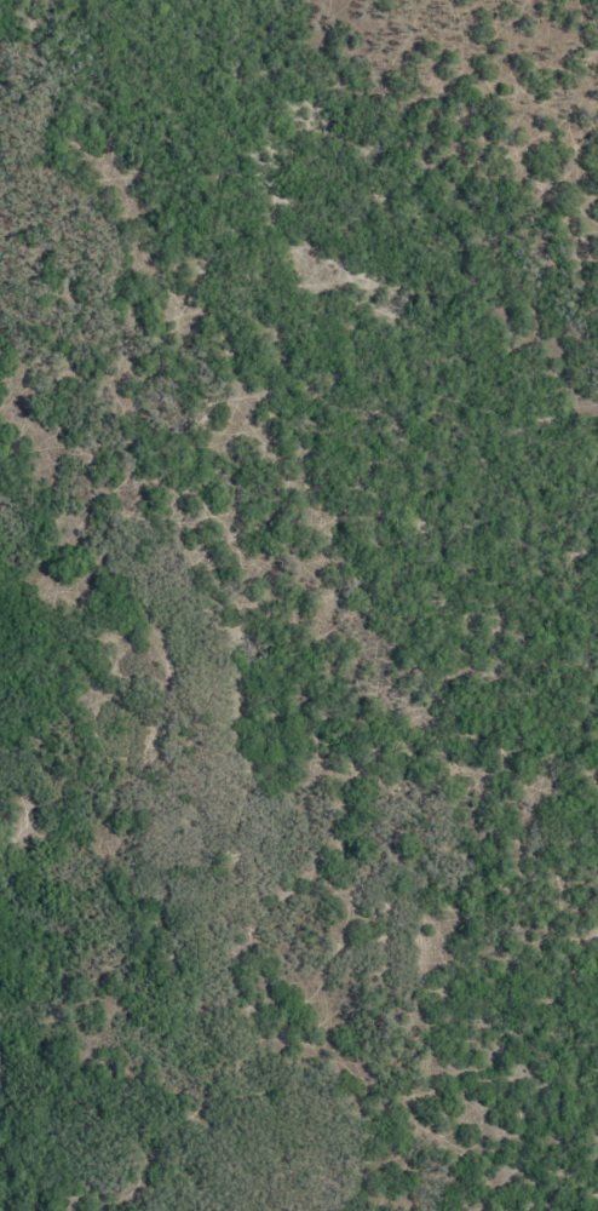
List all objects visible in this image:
road: (206, 54)

